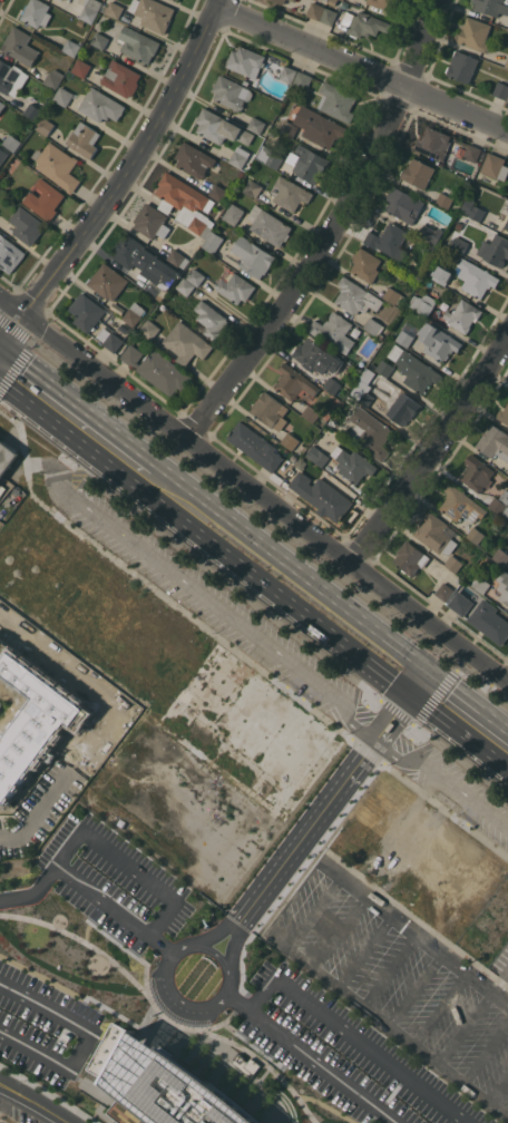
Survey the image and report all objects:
building: (294, 0)
building: (326, 0)
building: (340, 0)
building: (281, 1)
building: (333, 2)
building: (385, 4)
building: (490, 7)
building: (113, 9)
building: (91, 10)
building: (35, 11)
building: (316, 11)
building: (153, 13)
building: (330, 17)
building: (364, 23)
building: (475, 33)
building: (100, 40)
building: (138, 43)
building: (20, 46)
building: (71, 47)
building: (246, 60)
building: (506, 62)
building: (462, 66)
building: (81, 67)
road: (361, 69)
building: (287, 74)
building: (11, 77)
building: (53, 78)
building: (121, 78)
building: (304, 79)
building: (501, 89)
building: (232, 91)
building: (62, 96)
building: (507, 100)
building: (336, 101)
building: (2, 105)
building: (100, 105)
building: (32, 111)
building: (256, 124)
building: (45, 125)
building: (319, 126)
building: (221, 127)
building: (290, 128)
building: (84, 138)
building: (12, 141)
building: (433, 143)
building: (455, 148)
building: (471, 153)
building: (2, 155)
building: (270, 156)
building: (240, 157)
building: (194, 159)
building: (307, 163)
road: (130, 164)
building: (58, 165)
building: (495, 166)
building: (0, 170)
building: (241, 173)
building: (418, 173)
building: (253, 187)
building: (218, 192)
building: (290, 193)
building: (446, 196)
building: (45, 198)
building: (186, 203)
building: (404, 205)
building: (472, 208)
building: (233, 213)
building: (152, 221)
building: (458, 223)
building: (506, 224)
building: (26, 225)
building: (268, 225)
road: (333, 232)
building: (430, 233)
building: (389, 240)
building: (214, 241)
building: (458, 243)
building: (494, 250)
building: (128, 251)
building: (9, 253)
building: (253, 256)
building: (177, 257)
building: (365, 264)
building: (441, 275)
building: (195, 276)
building: (476, 277)
building: (108, 281)
building: (184, 284)
building: (234, 286)
building: (153, 287)
building: (355, 296)
building: (393, 296)
building: (422, 303)
road: (11, 306)
building: (87, 311)
building: (134, 313)
building: (462, 315)
building: (211, 320)
building: (373, 326)
road: (11, 329)
building: (150, 329)
building: (334, 331)
building: (408, 333)
road: (1, 336)
traffic signals: (3, 339)
building: (109, 339)
building: (438, 341)
building: (186, 342)
road: (25, 348)
building: (316, 357)
building: (384, 368)
building: (157, 369)
building: (413, 369)
building: (294, 382)
building: (331, 384)
building: (363, 388)
road: (82, 400)
building: (403, 408)
building: (270, 410)
building: (311, 413)
building: (504, 413)
road: (50, 421)
building: (370, 432)
building: (290, 440)
building: (494, 441)
building: (255, 446)
road: (434, 451)
building: (317, 455)
building: (7, 457)
building: (352, 463)
building: (477, 473)
building: (507, 476)
building: (321, 495)
road: (265, 498)
building: (500, 504)
building: (461, 505)
building: (436, 534)
building: (475, 535)
building: (501, 556)
building: (410, 557)
building: (453, 563)
road: (295, 564)
road: (254, 576)
building: (480, 584)
building: (504, 585)
road: (152, 587)
building: (444, 590)
road: (209, 600)
building: (482, 615)
traffic signals: (428, 666)
road: (418, 680)
traffic signals: (409, 693)
road: (468, 696)
road: (419, 712)
road: (360, 714)
road: (458, 731)
road: (400, 744)
road: (442, 778)
road: (322, 808)
road: (38, 809)
road: (446, 810)
road: (128, 866)
road: (296, 872)
road: (86, 889)
road: (312, 911)
road: (270, 919)
road: (234, 924)
building: (489, 927)
road: (339, 930)
road: (85, 931)
road: (79, 938)
road: (201, 946)
road: (125, 949)
road: (363, 949)
road: (389, 969)
road: (42, 978)
road: (499, 980)
road: (413, 988)
road: (238, 1003)
road: (439, 1007)
road: (183, 1027)
road: (465, 1027)
road: (353, 1038)
road: (84, 1039)
road: (250, 1045)
road: (486, 1051)
road: (177, 1053)
road: (310, 1056)
road: (265, 1064)
building: (157, 1084)
road: (498, 1086)
road: (48, 1093)
road: (3, 1094)
road: (33, 1102)
road: (326, 1107)

